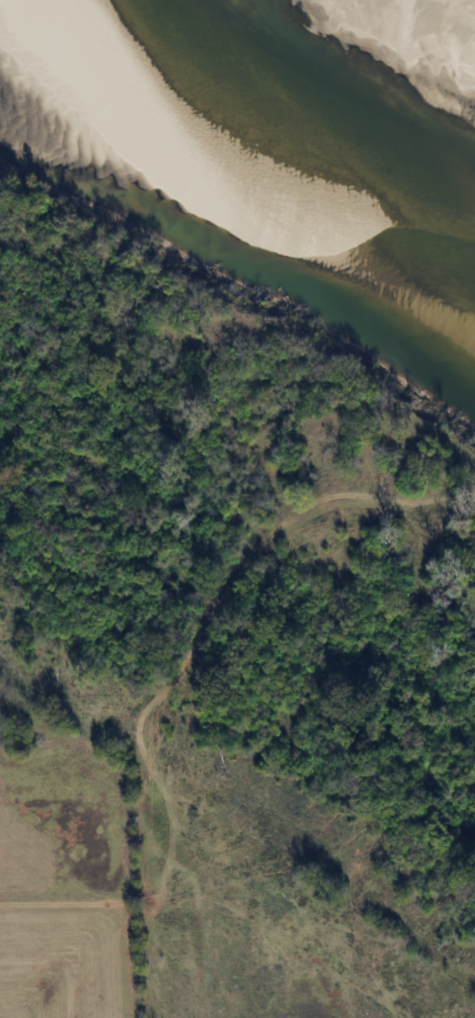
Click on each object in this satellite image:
river: (227, 154)

